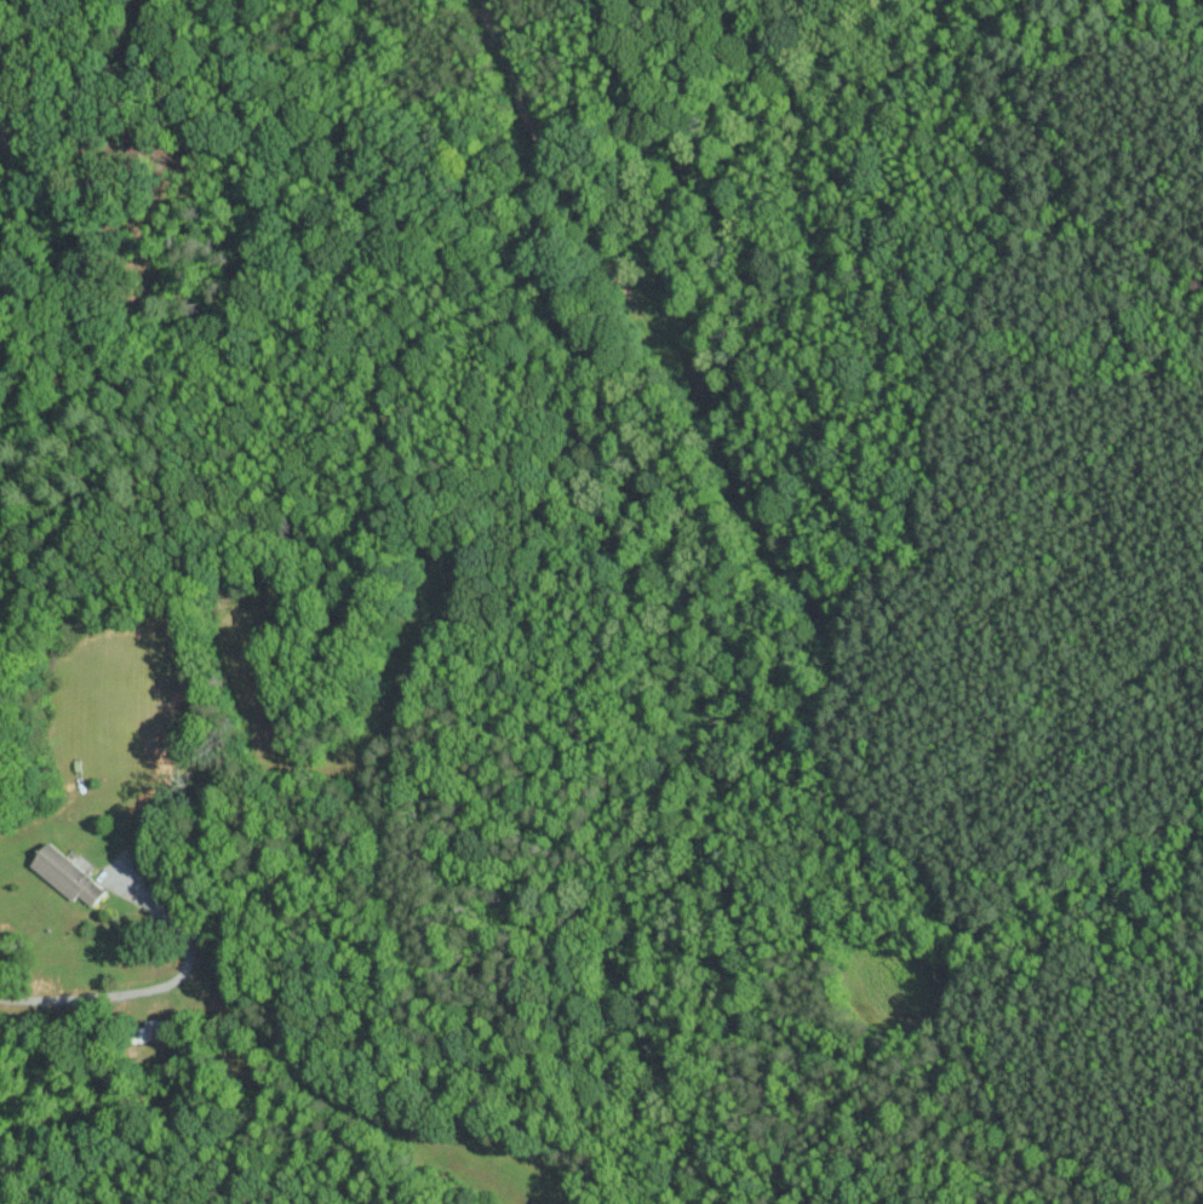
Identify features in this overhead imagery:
building: (70, 875)
road: (139, 990)
building: (167, 1027)

